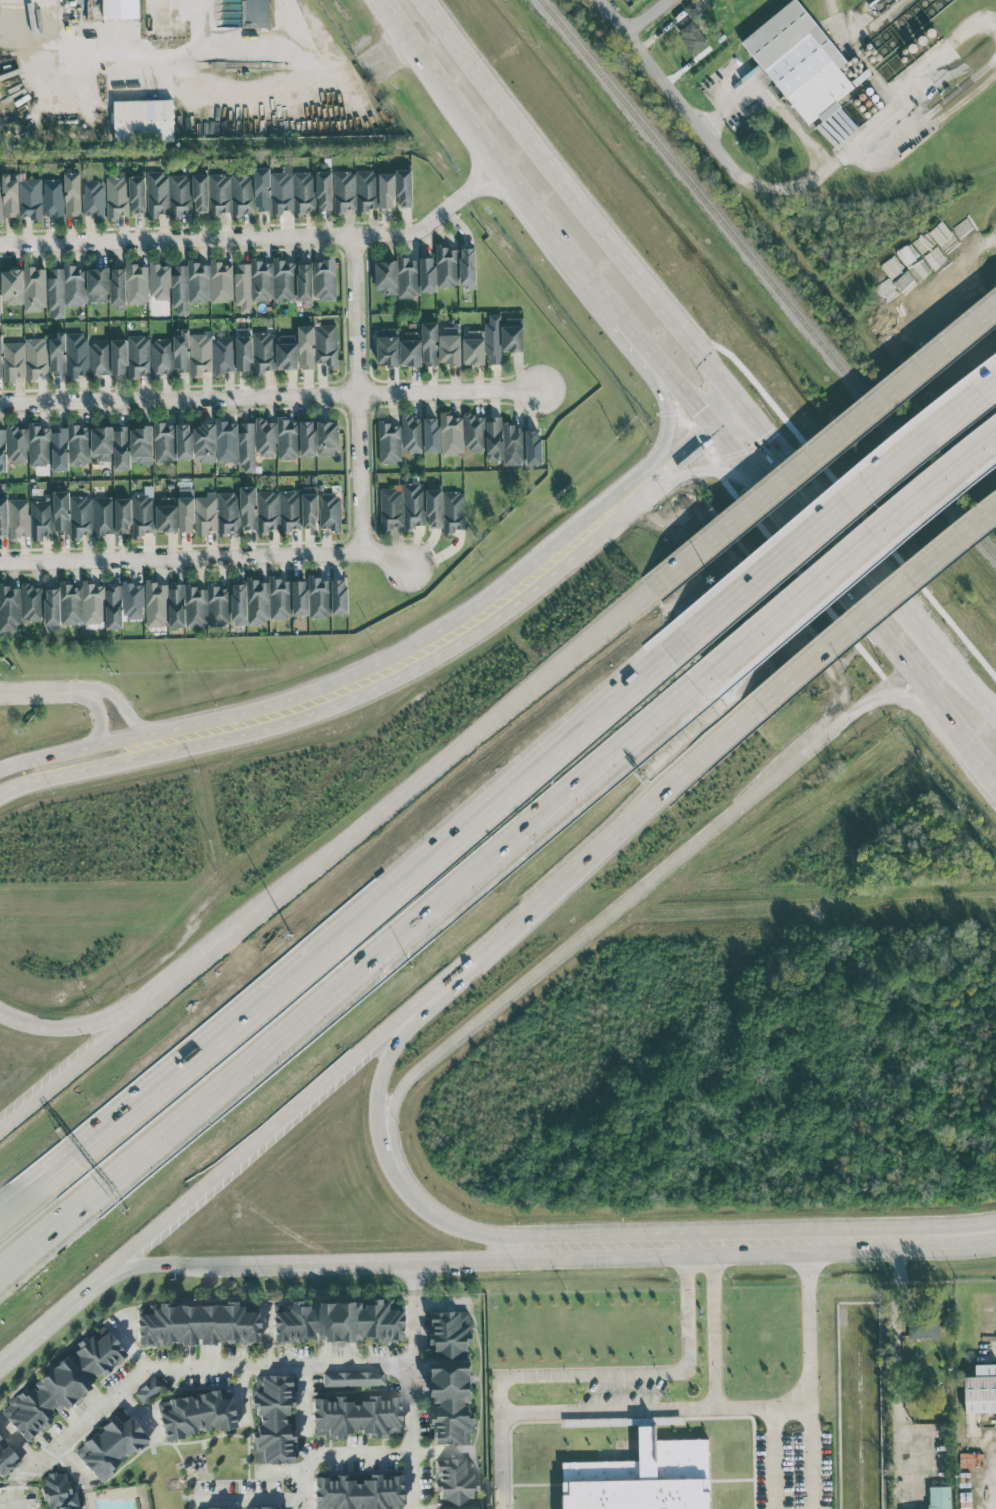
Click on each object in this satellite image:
building: (895, 0)
road: (827, 6)
building: (694, 8)
building: (120, 9)
road: (645, 15)
building: (692, 38)
building: (800, 61)
road: (373, 67)
road: (150, 84)
road: (672, 89)
road: (446, 98)
road: (906, 104)
building: (143, 121)
building: (837, 128)
road: (801, 134)
building: (404, 188)
building: (324, 190)
building: (386, 190)
building: (284, 191)
building: (355, 191)
building: (200, 193)
building: (72, 194)
building: (168, 194)
building: (231, 194)
building: (137, 195)
building: (8, 196)
building: (117, 196)
building: (53, 198)
building: (93, 198)
building: (31, 199)
road: (580, 204)
road: (261, 237)
road: (570, 257)
building: (447, 266)
building: (468, 268)
building: (427, 274)
building: (398, 277)
railway: (767, 278)
building: (324, 279)
building: (159, 281)
building: (264, 282)
building: (201, 283)
building: (98, 284)
building: (137, 284)
building: (305, 284)
building: (117, 286)
building: (24, 288)
building: (66, 289)
building: (512, 334)
road: (640, 343)
building: (429, 344)
building: (483, 344)
building: (326, 345)
building: (449, 345)
building: (306, 347)
building: (410, 349)
building: (181, 350)
building: (387, 350)
building: (264, 352)
building: (286, 352)
building: (200, 353)
building: (244, 353)
building: (57, 354)
building: (77, 355)
building: (223, 355)
building: (131, 356)
building: (0, 357)
building: (161, 357)
building: (99, 358)
building: (26, 359)
road: (358, 391)
road: (450, 391)
road: (179, 397)
road: (688, 398)
traffic signals: (738, 408)
road: (725, 418)
traffic signals: (712, 428)
building: (473, 432)
building: (411, 434)
building: (451, 434)
building: (431, 435)
road: (663, 436)
building: (306, 438)
building: (226, 441)
building: (172, 442)
building: (256, 442)
building: (389, 442)
building: (102, 443)
building: (204, 443)
building: (512, 443)
building: (17, 444)
building: (39, 445)
building: (141, 445)
building: (70, 446)
building: (121, 447)
road: (821, 449)
building: (3, 451)
road: (732, 453)
road: (670, 461)
road: (690, 472)
road: (818, 505)
building: (401, 507)
building: (248, 508)
building: (434, 508)
building: (186, 510)
building: (286, 510)
building: (61, 512)
building: (143, 512)
building: (330, 512)
building: (453, 512)
road: (835, 513)
building: (166, 514)
building: (217, 514)
building: (80, 516)
building: (102, 516)
building: (122, 516)
building: (19, 517)
building: (41, 519)
road: (204, 554)
road: (848, 556)
road: (834, 571)
building: (327, 597)
building: (268, 600)
building: (133, 601)
building: (31, 603)
building: (71, 603)
building: (93, 603)
building: (156, 604)
building: (113, 605)
building: (198, 605)
building: (52, 606)
building: (9, 607)
road: (872, 608)
road: (947, 659)
road: (403, 662)
road: (35, 693)
road: (938, 694)
road: (119, 702)
road: (98, 711)
road: (977, 742)
road: (68, 747)
road: (441, 761)
road: (994, 763)
road: (69, 771)
road: (591, 855)
road: (422, 869)
road: (654, 877)
road: (350, 978)
road: (126, 1005)
road: (425, 1012)
road: (119, 1028)
road: (274, 1134)
road: (80, 1144)
road: (82, 1157)
road: (392, 1163)
road: (946, 1236)
road: (852, 1239)
road: (760, 1242)
road: (699, 1243)
road: (597, 1246)
road: (312, 1264)
road: (414, 1278)
road: (69, 1308)
building: (337, 1322)
road: (809, 1323)
building: (197, 1326)
building: (922, 1327)
road: (12, 1359)
road: (192, 1366)
road: (897, 1370)
road: (639, 1373)
building: (451, 1378)
building: (353, 1379)
building: (62, 1384)
building: (980, 1389)
building: (147, 1390)
road: (304, 1398)
road: (413, 1401)
road: (745, 1407)
road: (692, 1408)
building: (196, 1415)
building: (355, 1418)
building: (272, 1421)
building: (619, 1422)
road: (774, 1439)
building: (110, 1446)
road: (334, 1453)
road: (812, 1457)
road: (502, 1460)
building: (6, 1462)
building: (643, 1477)
building: (454, 1480)
building: (57, 1492)
building: (358, 1493)
road: (16, 1494)
building: (939, 1497)
road: (251, 1500)
road: (10, 1504)
building: (227, 1508)
building: (264, 1508)
building: (455, 1508)

